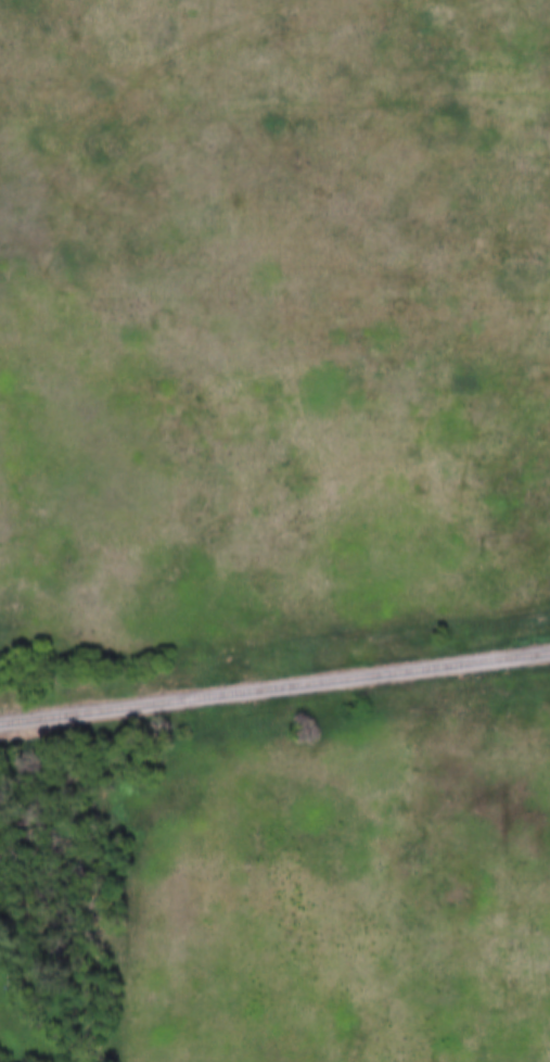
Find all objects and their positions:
railway: (274, 683)

